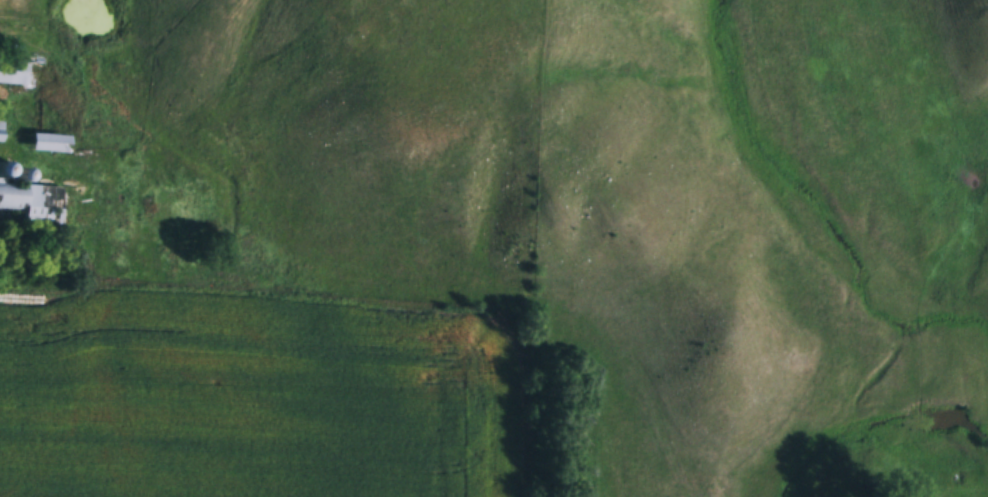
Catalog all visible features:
building: (22, 73)
building: (54, 143)
road: (23, 151)
building: (27, 202)

